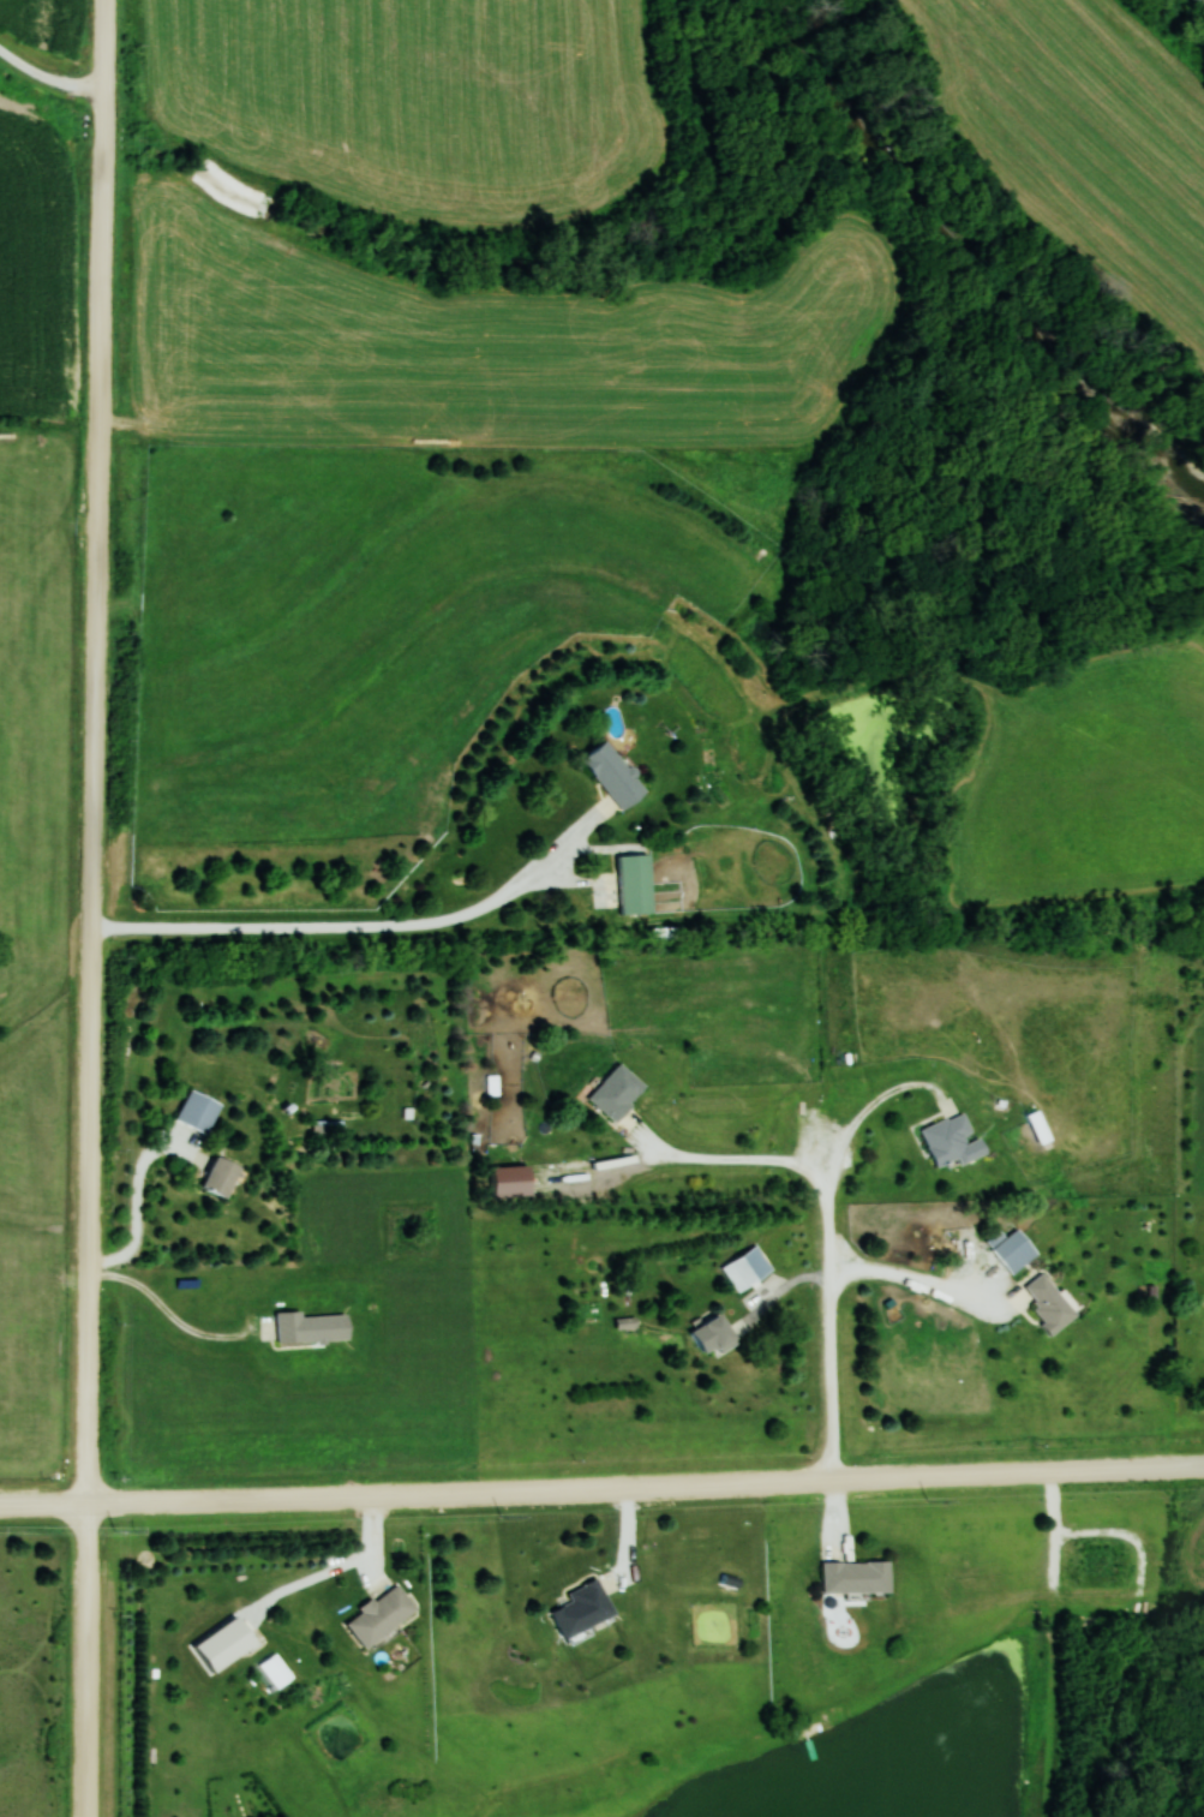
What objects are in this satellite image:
road: (47, 84)
building: (616, 776)
building: (636, 885)
road: (95, 908)
road: (370, 931)
building: (619, 1092)
road: (887, 1100)
building: (200, 1112)
building: (323, 1130)
building: (956, 1141)
road: (730, 1161)
building: (223, 1177)
building: (511, 1182)
road: (142, 1207)
building: (1017, 1250)
building: (749, 1269)
road: (917, 1284)
building: (1053, 1305)
road: (174, 1319)
road: (832, 1323)
building: (313, 1328)
building: (715, 1335)
road: (601, 1489)
building: (859, 1576)
building: (586, 1607)
building: (384, 1614)

